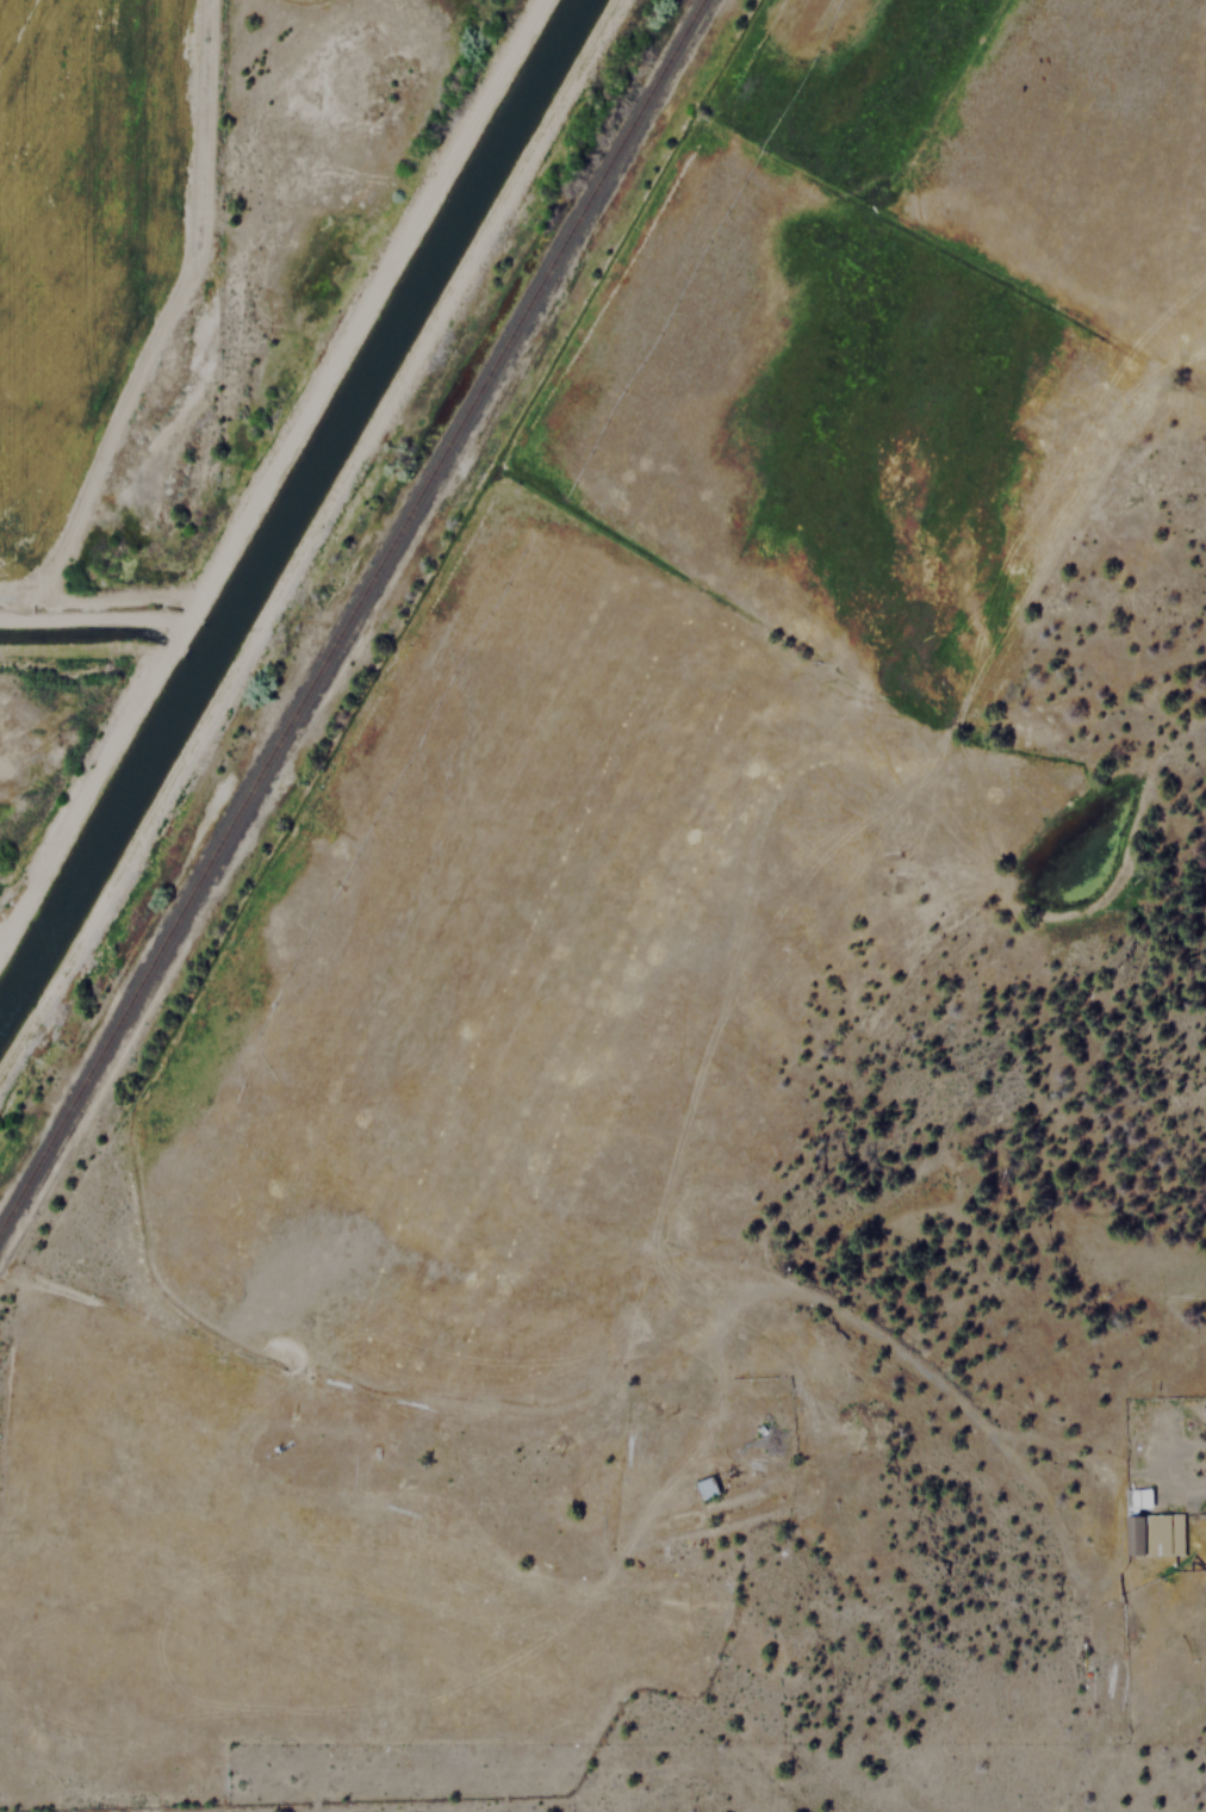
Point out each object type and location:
crop: (26, 50)
railway: (352, 615)
building: (704, 1487)
building: (1148, 1526)

